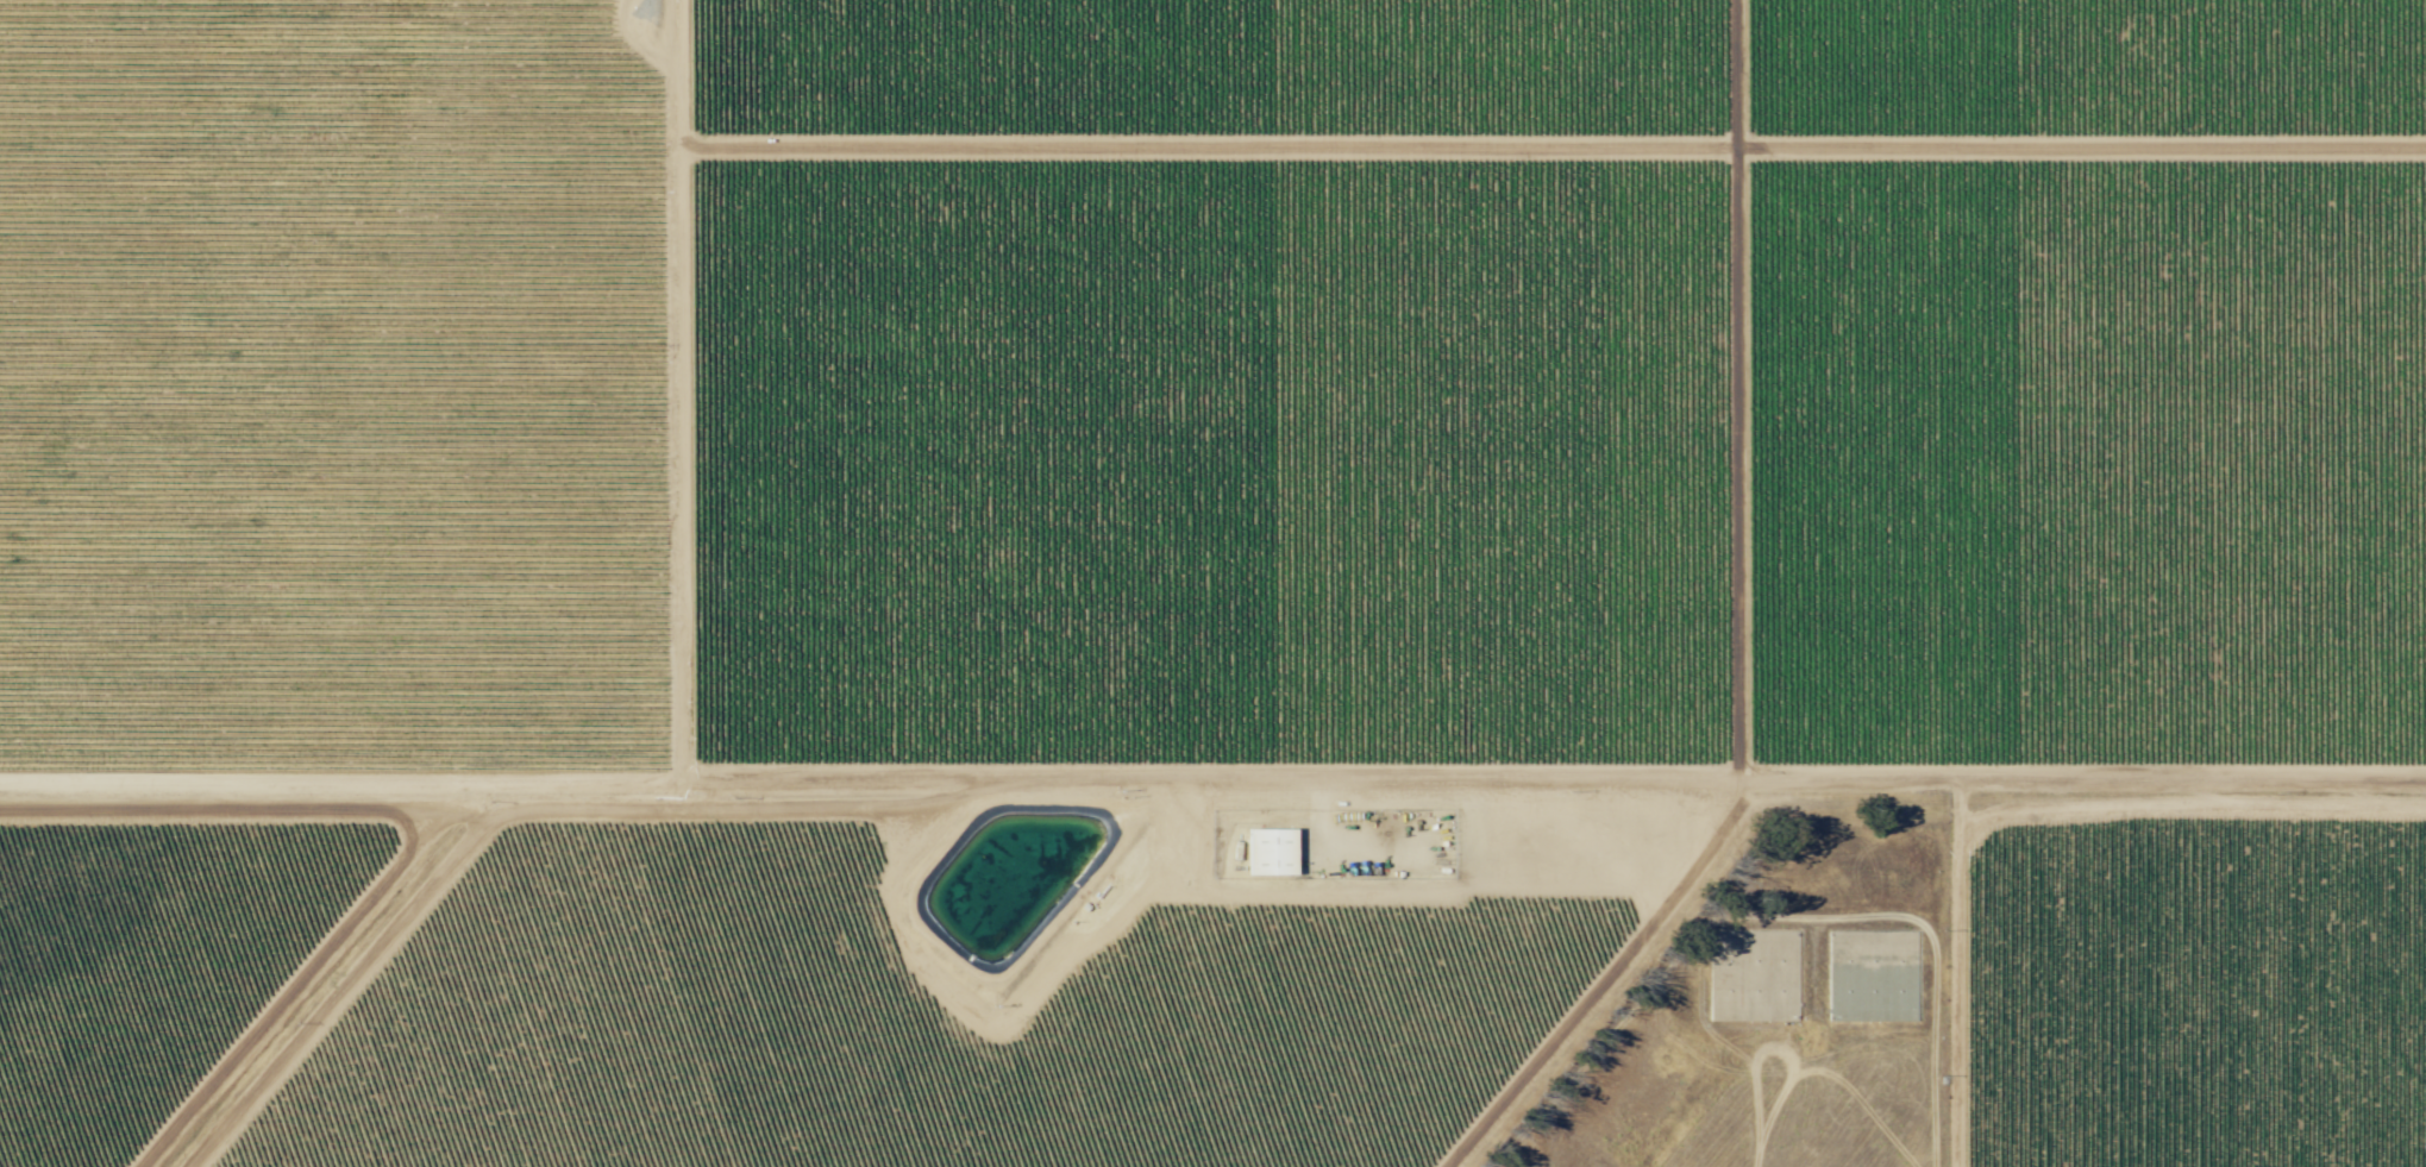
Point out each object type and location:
road: (659, 49)
crop: (1186, 563)
road: (2168, 784)
road: (838, 810)
building: (1270, 852)
road: (1653, 915)
building: (1755, 977)
building: (1874, 977)
road: (1929, 1047)

